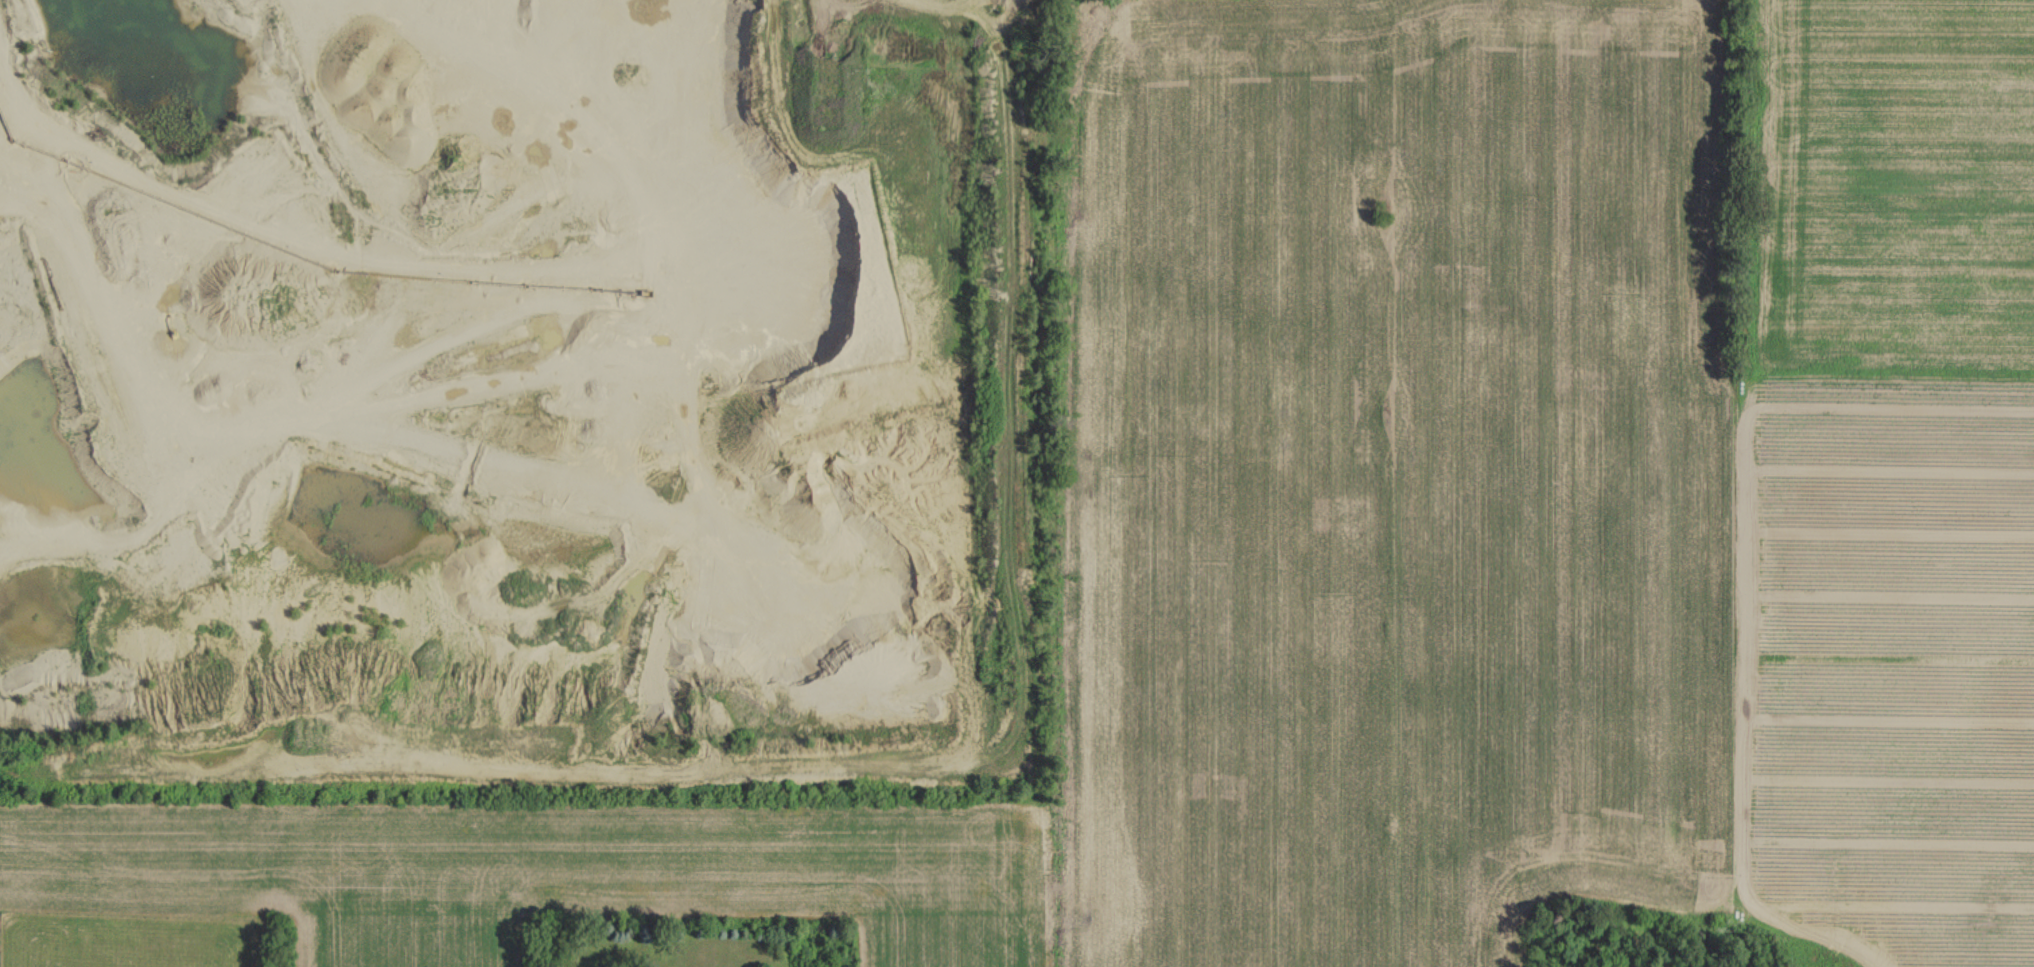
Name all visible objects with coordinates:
quarry: (520, 395)

